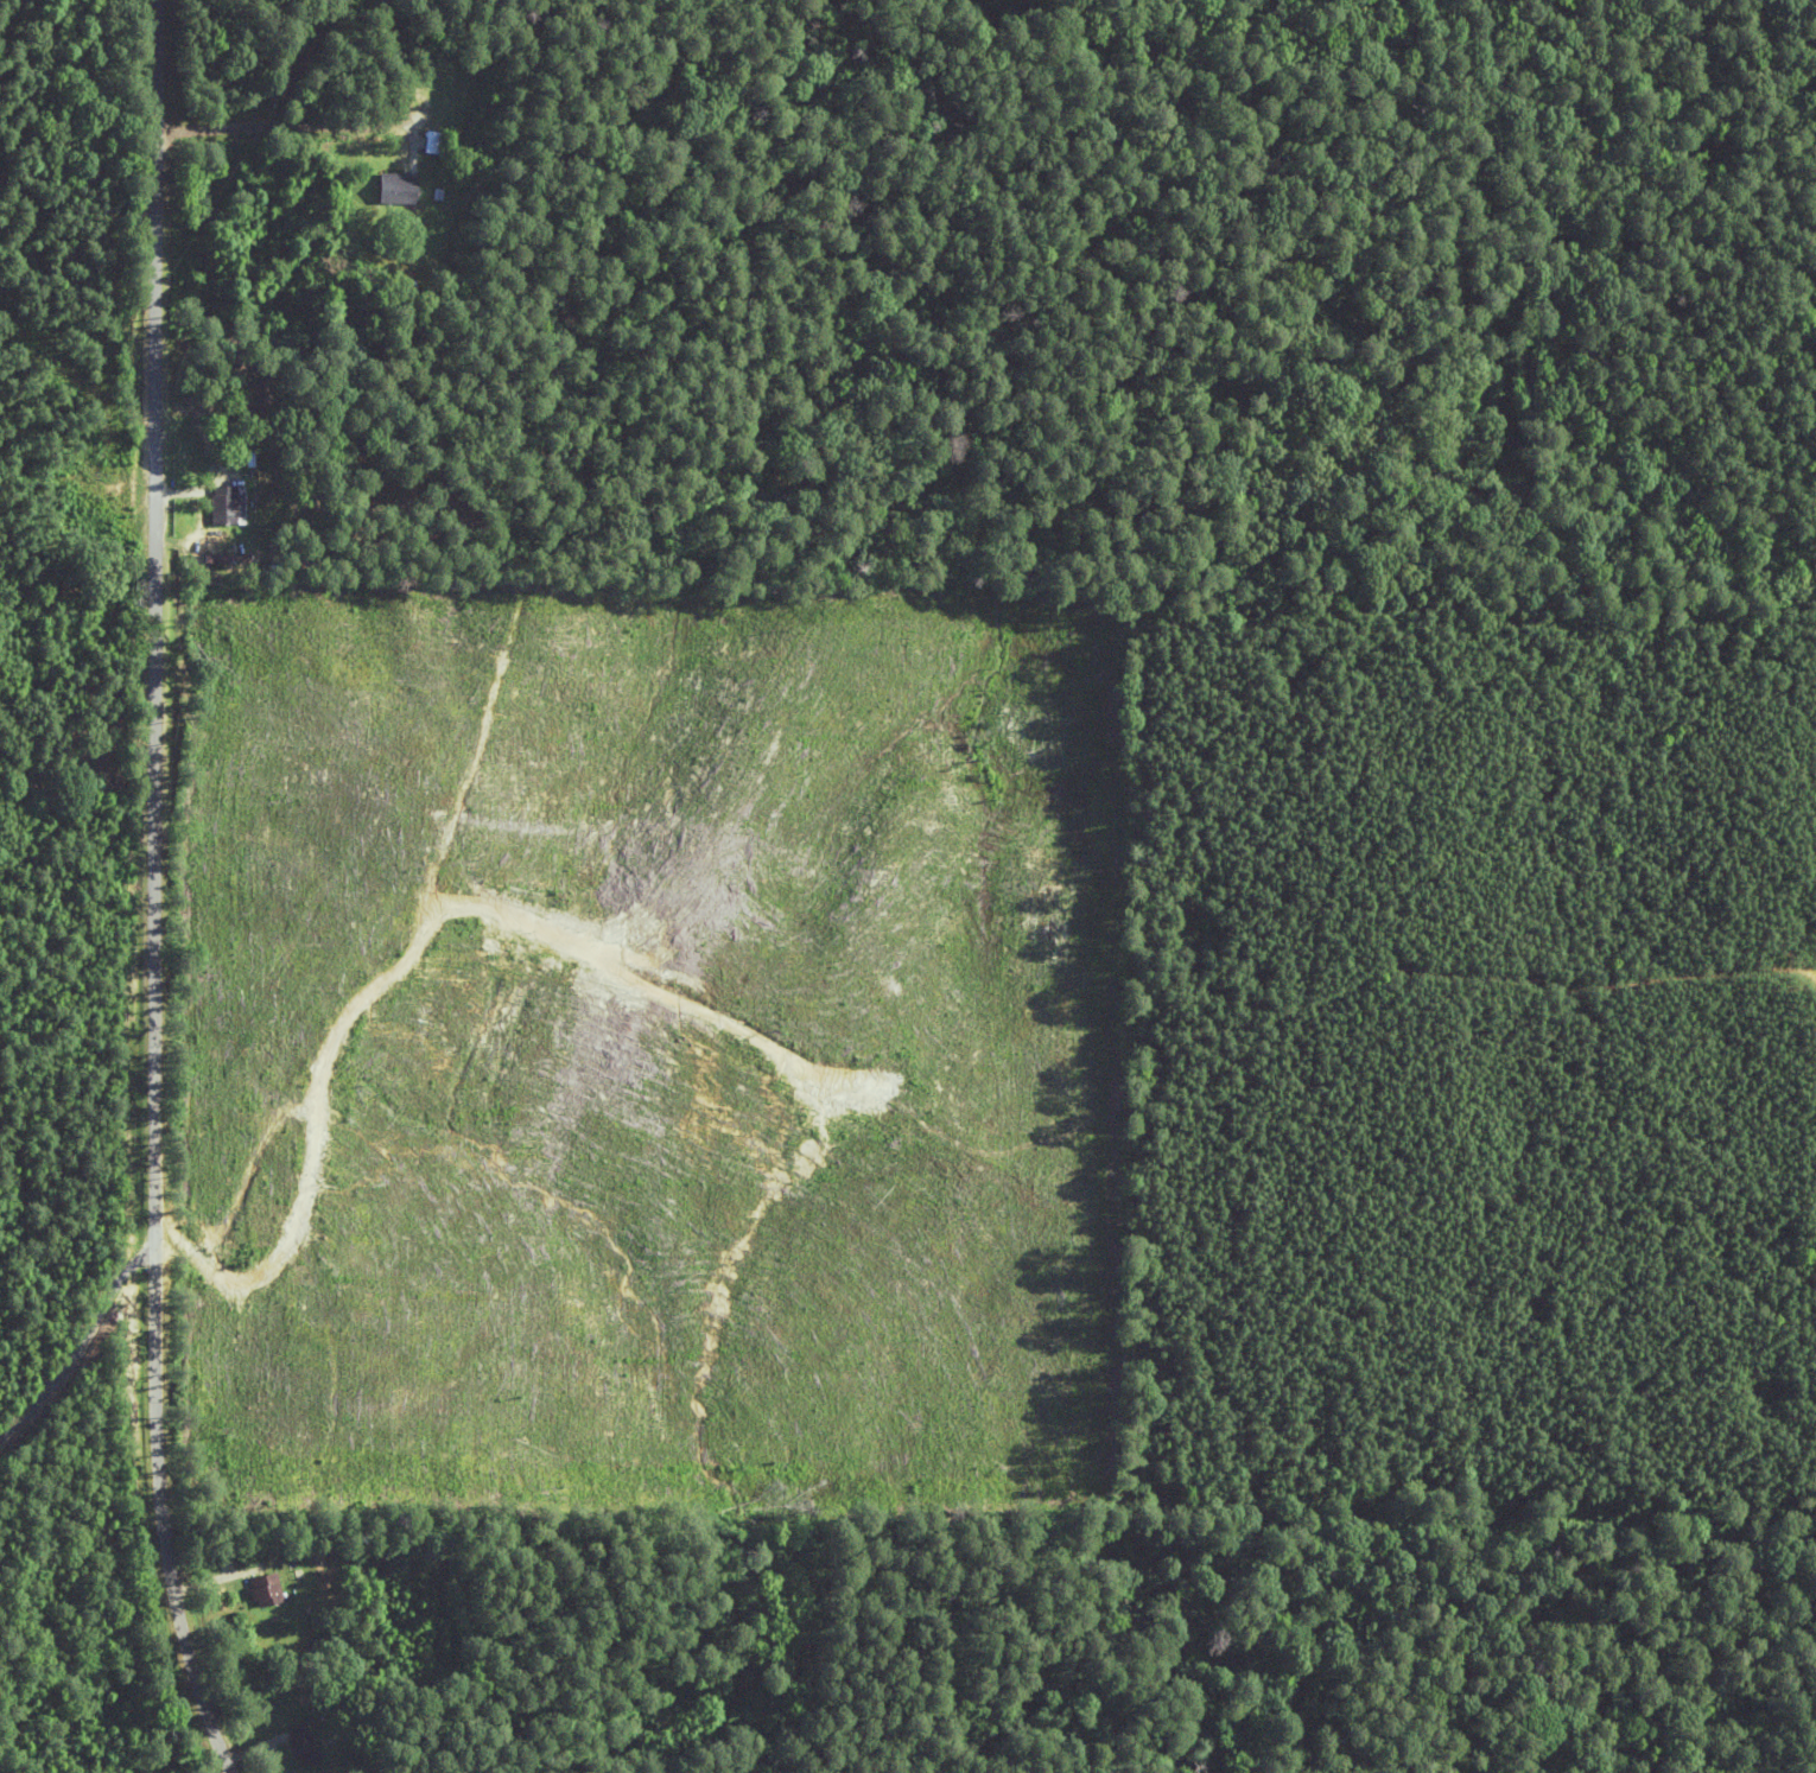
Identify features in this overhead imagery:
road: (350, 127)
building: (387, 190)
building: (221, 504)
road: (152, 890)
building: (261, 1588)
building: (298, 1743)

